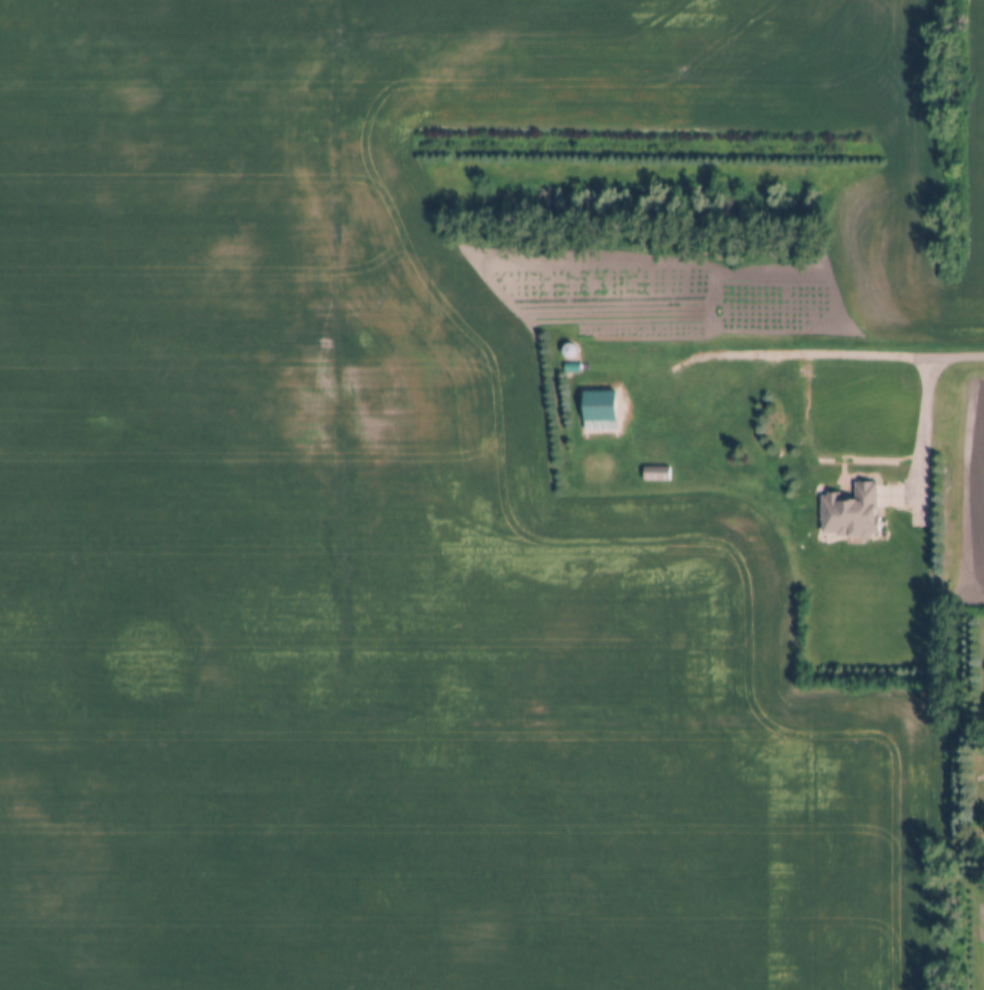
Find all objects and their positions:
building: (570, 350)
silo: (570, 350)
road: (800, 350)
road: (958, 352)
building: (572, 367)
road: (916, 437)
building: (596, 469)
building: (655, 475)
building: (853, 515)

